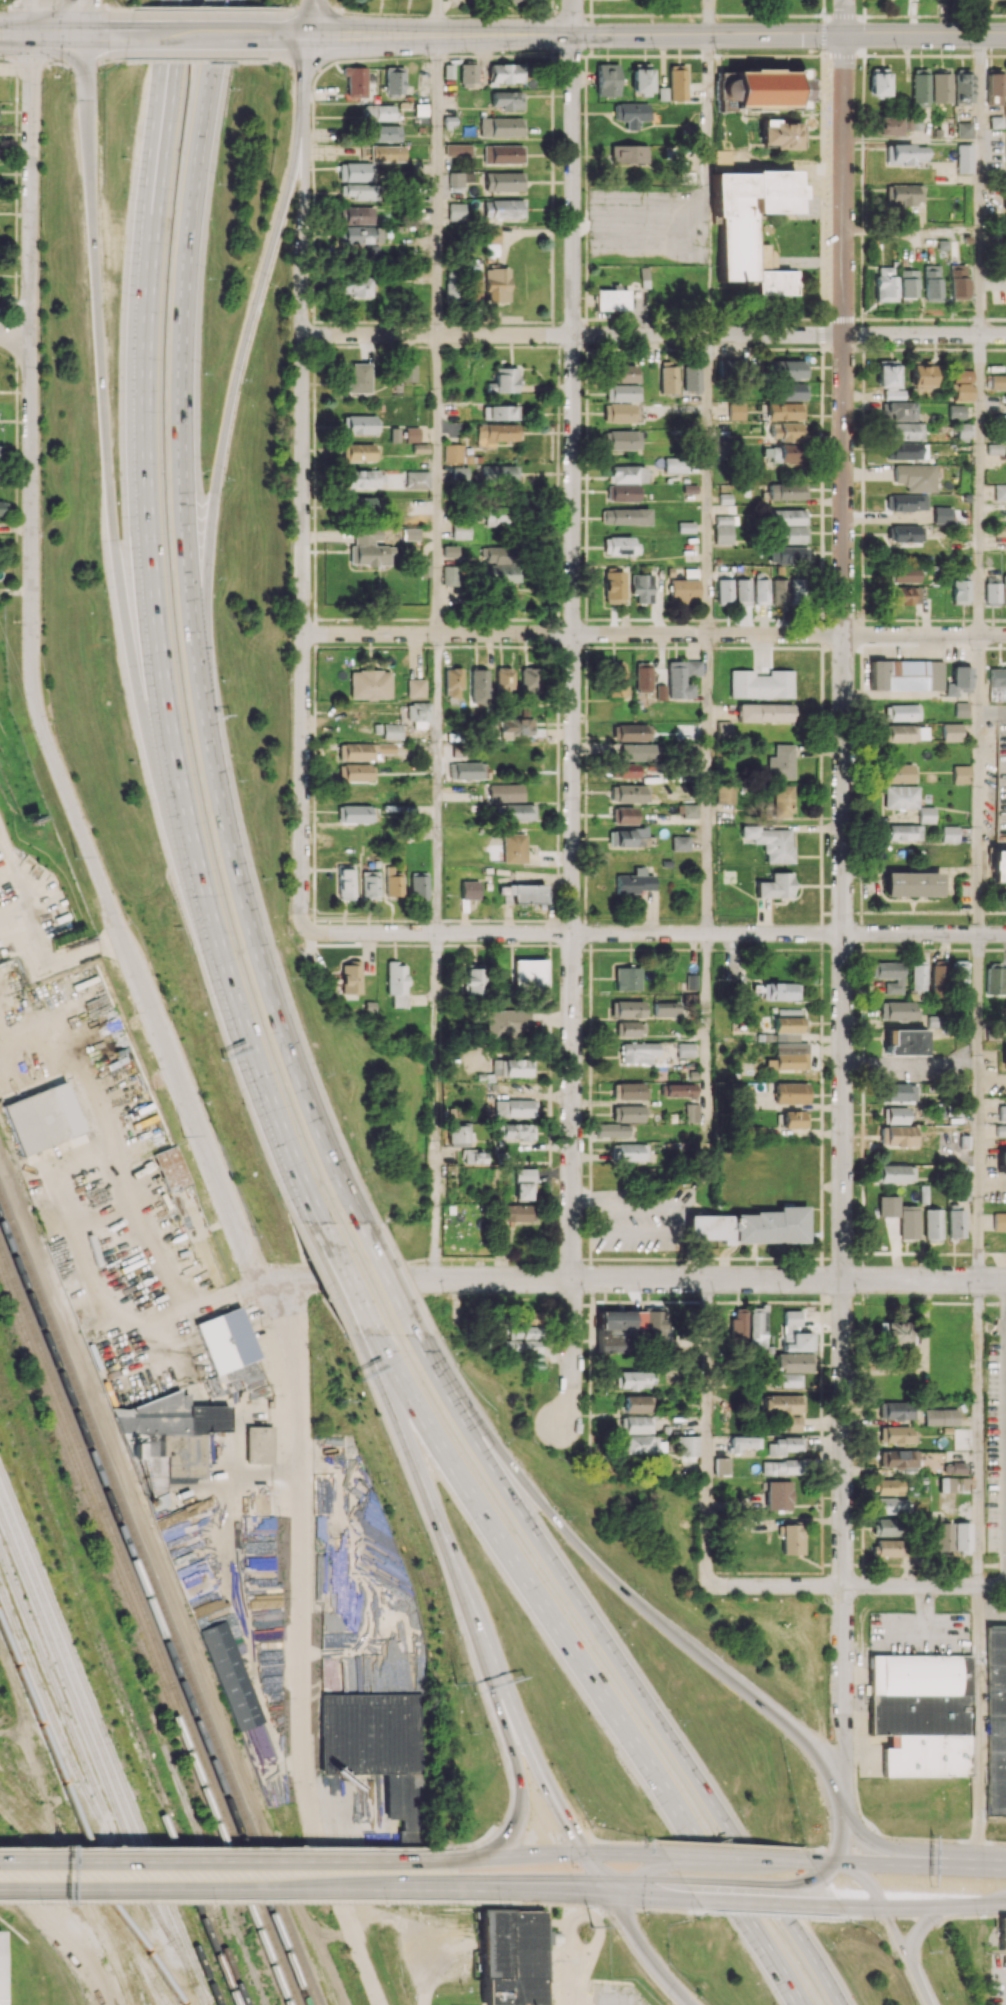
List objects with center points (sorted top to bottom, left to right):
building: (510, 2)
road: (59, 5)
road: (111, 8)
road: (198, 9)
road: (355, 12)
road: (31, 17)
road: (85, 17)
road: (436, 17)
road: (573, 17)
road: (708, 17)
road: (843, 17)
road: (980, 17)
road: (309, 18)
traffic signals: (31, 34)
road: (60, 34)
road: (656, 34)
traffic signals: (84, 35)
road: (195, 35)
road: (289, 36)
road: (556, 55)
road: (2, 57)
road: (108, 60)
road: (193, 60)
road: (24, 63)
road: (58, 63)
road: (84, 65)
building: (506, 73)
building: (468, 74)
building: (641, 77)
building: (607, 79)
building: (394, 80)
building: (356, 81)
building: (677, 82)
building: (878, 82)
building: (963, 86)
building: (941, 87)
building: (760, 89)
building: (994, 89)
building: (918, 95)
building: (508, 100)
road: (162, 103)
building: (1005, 109)
building: (380, 112)
building: (631, 113)
road: (707, 113)
building: (995, 122)
building: (889, 126)
building: (501, 127)
building: (964, 130)
building: (388, 133)
building: (779, 134)
building: (457, 149)
building: (387, 153)
building: (503, 154)
building: (628, 154)
building: (905, 154)
building: (964, 158)
building: (722, 160)
building: (356, 172)
building: (459, 178)
building: (504, 181)
road: (979, 184)
road: (304, 185)
road: (436, 185)
building: (358, 191)
building: (903, 194)
building: (1004, 198)
building: (503, 208)
building: (455, 212)
building: (359, 215)
building: (751, 226)
road: (911, 229)
building: (363, 234)
building: (491, 238)
building: (372, 250)
building: (956, 282)
building: (906, 283)
building: (930, 283)
building: (496, 284)
building: (884, 284)
building: (357, 287)
building: (472, 288)
building: (449, 290)
building: (612, 299)
road: (15, 333)
road: (506, 334)
road: (858, 335)
road: (240, 362)
road: (29, 368)
building: (787, 369)
building: (407, 372)
building: (623, 373)
building: (886, 374)
building: (961, 376)
building: (358, 378)
building: (692, 378)
building: (920, 378)
building: (505, 379)
building: (668, 380)
building: (998, 381)
building: (791, 391)
building: (961, 392)
building: (622, 393)
building: (1005, 400)
building: (736, 411)
building: (784, 411)
building: (901, 411)
building: (956, 411)
building: (500, 412)
building: (618, 413)
building: (1000, 421)
building: (362, 424)
building: (787, 431)
building: (906, 431)
building: (964, 432)
building: (495, 433)
building: (412, 434)
building: (622, 439)
building: (0, 445)
building: (357, 451)
building: (906, 451)
building: (452, 453)
building: (782, 454)
road: (106, 455)
building: (675, 465)
building: (459, 473)
building: (628, 474)
building: (499, 475)
building: (914, 477)
building: (365, 478)
building: (417, 480)
road: (438, 483)
road: (979, 485)
building: (787, 491)
building: (1000, 492)
building: (908, 502)
building: (360, 504)
building: (2, 508)
building: (941, 515)
building: (495, 516)
building: (626, 516)
building: (787, 517)
building: (725, 525)
building: (686, 527)
building: (460, 530)
building: (906, 533)
building: (791, 534)
building: (619, 545)
building: (368, 548)
building: (792, 555)
building: (424, 566)
building: (497, 567)
building: (903, 574)
building: (449, 575)
road: (302, 583)
building: (614, 587)
building: (642, 587)
building: (1004, 589)
building: (683, 590)
building: (780, 590)
building: (743, 591)
building: (761, 591)
building: (798, 591)
building: (960, 591)
building: (725, 592)
building: (993, 593)
building: (904, 595)
road: (153, 621)
road: (193, 621)
road: (654, 633)
road: (710, 634)
building: (692, 667)
building: (906, 675)
building: (642, 677)
building: (616, 679)
building: (677, 681)
building: (958, 681)
building: (452, 682)
building: (503, 682)
building: (369, 684)
building: (761, 684)
building: (997, 684)
building: (529, 685)
building: (478, 686)
building: (414, 687)
building: (661, 692)
building: (961, 709)
building: (418, 711)
road: (992, 711)
building: (765, 712)
building: (902, 712)
building: (515, 728)
building: (724, 728)
building: (391, 731)
road: (573, 732)
building: (630, 732)
building: (952, 732)
building: (899, 733)
building: (921, 733)
building: (363, 750)
building: (636, 752)
building: (781, 762)
building: (627, 770)
building: (465, 771)
building: (357, 772)
building: (899, 773)
building: (961, 774)
road: (439, 783)
road: (978, 784)
building: (505, 792)
building: (629, 793)
building: (726, 794)
building: (901, 797)
building: (783, 801)
building: (690, 810)
road: (844, 810)
building: (518, 812)
building: (356, 814)
building: (927, 814)
building: (625, 815)
building: (904, 832)
building: (950, 834)
building: (625, 838)
building: (681, 843)
building: (771, 843)
building: (514, 848)
building: (999, 865)
building: (346, 882)
building: (634, 882)
building: (392, 883)
building: (912, 884)
building: (370, 885)
building: (418, 886)
building: (776, 886)
building: (469, 889)
building: (524, 893)
road: (15, 901)
road: (656, 933)
building: (529, 974)
building: (891, 975)
building: (919, 975)
building: (960, 975)
building: (938, 976)
building: (350, 977)
building: (474, 978)
building: (627, 978)
building: (996, 979)
building: (396, 983)
building: (780, 991)
road: (149, 1002)
building: (628, 1008)
building: (667, 1009)
building: (902, 1010)
building: (506, 1023)
building: (787, 1028)
building: (630, 1029)
road: (707, 1037)
building: (906, 1042)
building: (686, 1049)
building: (639, 1052)
building: (1004, 1058)
building: (784, 1062)
building: (512, 1067)
road: (992, 1078)
building: (681, 1090)
building: (631, 1091)
building: (901, 1092)
building: (791, 1093)
road: (438, 1106)
road: (978, 1107)
building: (515, 1108)
building: (1001, 1113)
building: (628, 1114)
building: (901, 1114)
building: (43, 1118)
building: (794, 1119)
building: (612, 1130)
building: (515, 1131)
building: (460, 1135)
building: (902, 1135)
building: (630, 1152)
building: (475, 1156)
building: (1002, 1160)
building: (172, 1169)
building: (896, 1173)
building: (525, 1184)
road: (992, 1184)
road: (69, 1193)
road: (595, 1202)
building: (888, 1206)
building: (517, 1213)
road: (675, 1216)
building: (999, 1221)
building: (908, 1222)
building: (956, 1223)
building: (933, 1225)
building: (750, 1227)
road: (386, 1278)
road: (646, 1279)
road: (343, 1280)
building: (528, 1318)
building: (620, 1319)
building: (654, 1321)
building: (739, 1324)
building: (758, 1327)
building: (795, 1333)
building: (894, 1333)
building: (522, 1339)
building: (226, 1340)
building: (610, 1344)
building: (792, 1362)
building: (633, 1380)
building: (637, 1404)
building: (783, 1404)
building: (896, 1410)
building: (941, 1416)
building: (794, 1423)
building: (638, 1424)
road: (709, 1431)
road: (978, 1433)
building: (897, 1434)
building: (167, 1438)
building: (743, 1443)
building: (259, 1444)
building: (642, 1444)
building: (783, 1445)
building: (688, 1446)
building: (901, 1458)
building: (722, 1466)
building: (782, 1467)
building: (954, 1467)
building: (953, 1484)
building: (889, 1487)
building: (777, 1495)
building: (891, 1506)
building: (887, 1527)
railway: (16, 1528)
building: (962, 1537)
building: (943, 1538)
building: (790, 1539)
building: (888, 1547)
road: (526, 1581)
road: (620, 1585)
road: (857, 1585)
railway: (159, 1599)
road: (466, 1604)
road: (992, 1611)
railway: (154, 1613)
railway: (149, 1624)
railway: (144, 1638)
road: (302, 1646)
road: (842, 1648)
railway: (133, 1665)
road: (626, 1669)
building: (229, 1675)
railway: (123, 1687)
railway: (119, 1699)
railway: (114, 1712)
building: (921, 1713)
building: (995, 1720)
building: (377, 1722)
railway: (110, 1723)
road: (978, 1724)
road: (522, 1729)
railway: (61, 1733)
railway: (99, 1736)
railway: (93, 1748)
railway: (79, 1750)
road: (845, 1760)
railway: (118, 1768)
railway: (4, 1771)
railway: (67, 1786)
railway: (25, 1811)
railway: (40, 1818)
railway: (265, 1818)
road: (840, 1836)
railway: (36, 1837)
road: (896, 1838)
road: (533, 1840)
road: (629, 1842)
road: (730, 1845)
road: (239, 1849)
road: (903, 1852)
road: (568, 1854)
traffic signals: (584, 1854)
road: (739, 1857)
road: (457, 1859)
road: (222, 1861)
road: (908, 1862)
road: (741, 1865)
road: (636, 1869)
road: (827, 1870)
road: (594, 1871)
road: (752, 1883)
road: (527, 1884)
road: (644, 1884)
road: (225, 1886)
traffic signals: (605, 1888)
railway: (100, 1890)
road: (651, 1894)
road: (237, 1902)
road: (769, 1903)
road: (593, 1906)
road: (882, 1906)
road: (923, 1906)
road: (745, 1913)
road: (776, 1914)
road: (926, 1917)
building: (1002, 1931)
railway: (120, 1934)
railway: (111, 1936)
road: (643, 1949)
road: (909, 1949)
railway: (135, 1950)
building: (513, 1957)
road: (575, 1969)
railway: (169, 1980)
railway: (134, 1989)

